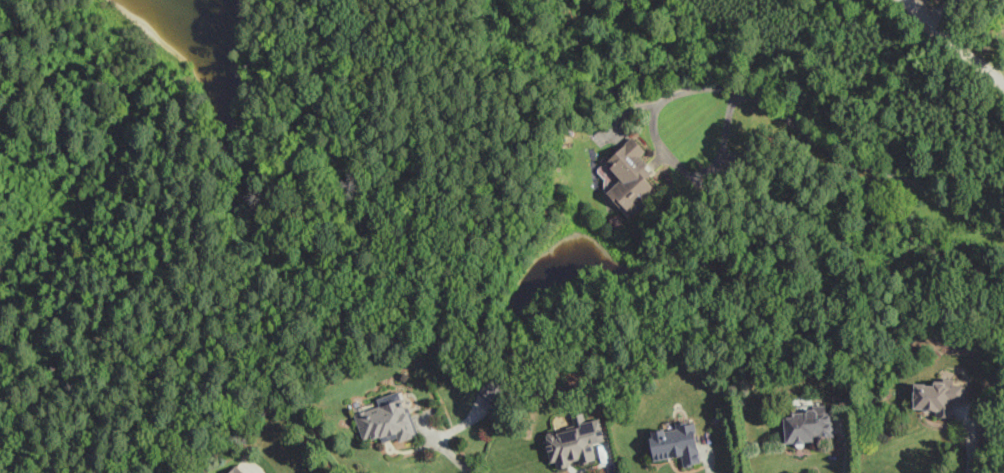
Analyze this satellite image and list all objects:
road: (954, 44)
road: (666, 153)
road: (868, 164)
building: (626, 177)
road: (250, 270)
building: (934, 397)
building: (382, 421)
building: (804, 425)
road: (972, 438)
building: (577, 441)
building: (671, 444)
road: (456, 456)
road: (607, 459)
building: (232, 470)

